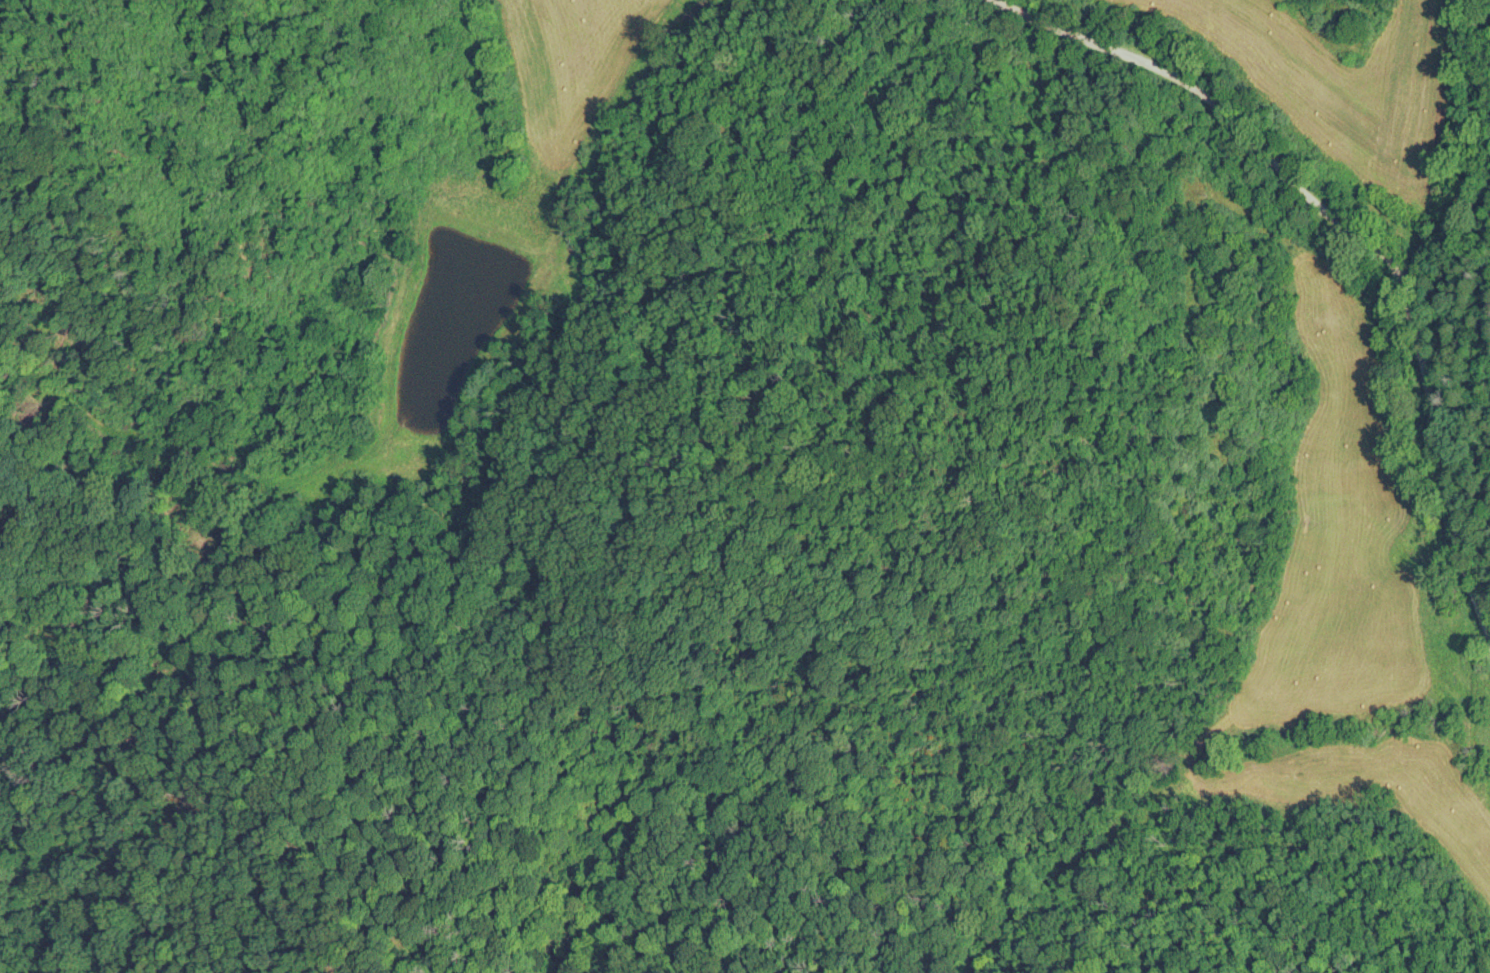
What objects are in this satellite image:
road: (1334, 259)

